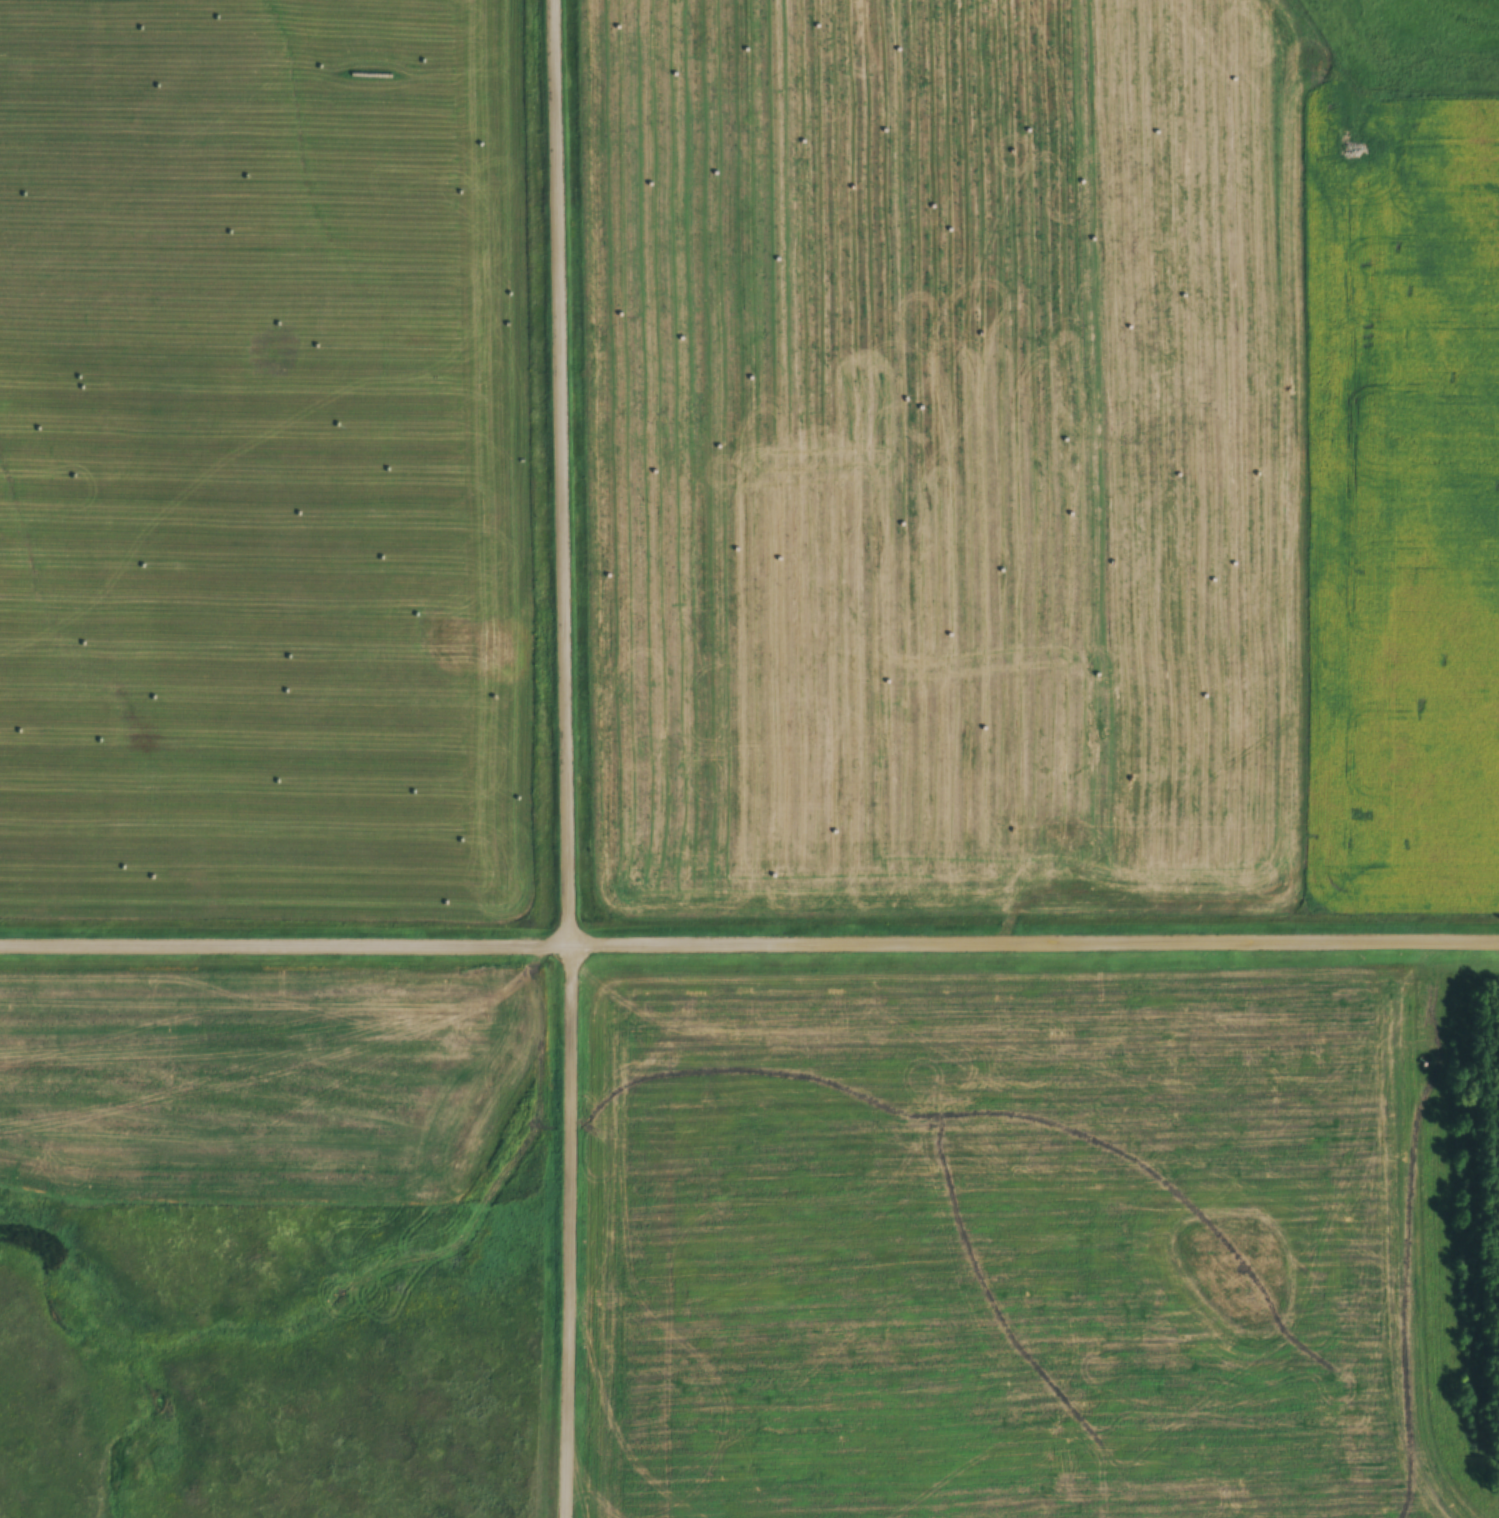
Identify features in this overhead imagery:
road: (570, 758)
road: (749, 947)
building: (439, 1056)

